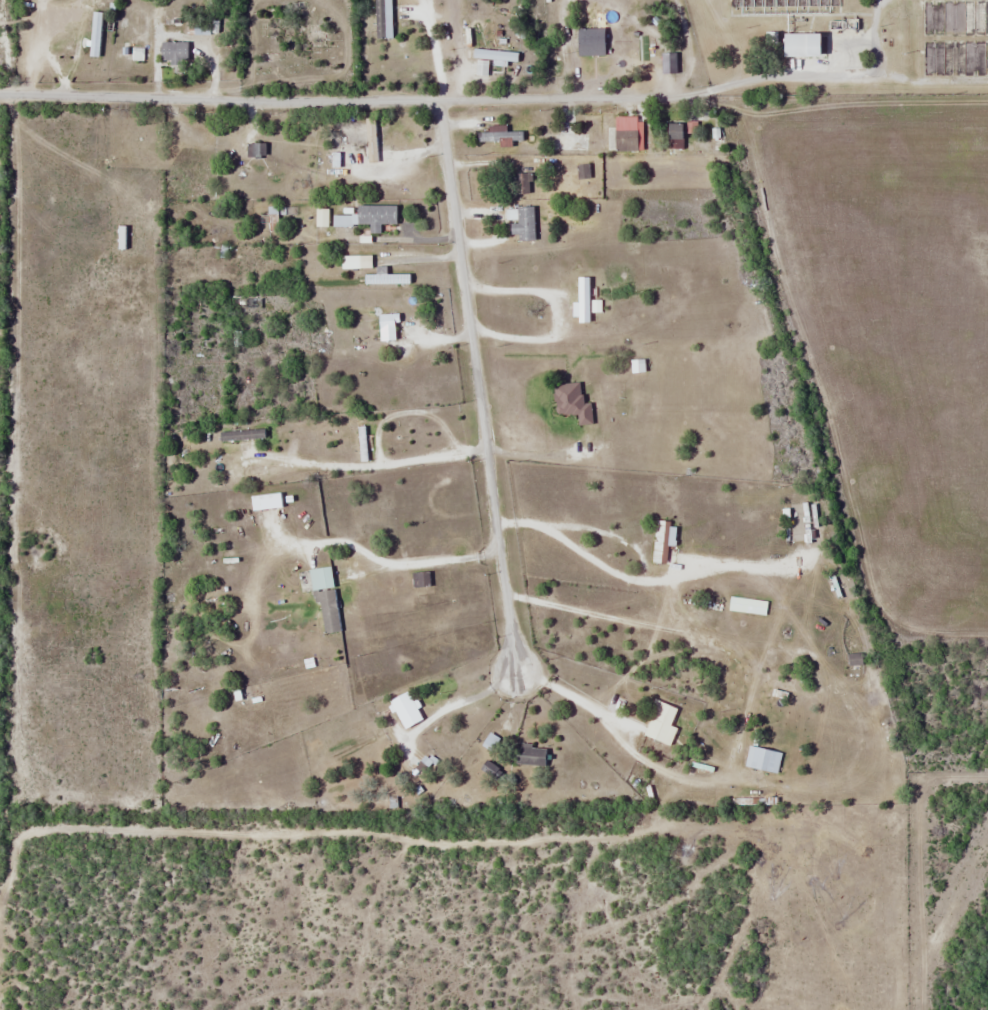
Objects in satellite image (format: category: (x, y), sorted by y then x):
building: (129, 11)
building: (382, 19)
building: (200, 26)
building: (638, 40)
building: (799, 44)
park: (297, 45)
wastewater plant: (842, 45)
building: (173, 51)
road: (354, 98)
building: (362, 129)
building: (625, 133)
building: (673, 135)
building: (499, 136)
building: (255, 150)
building: (187, 162)
building: (521, 184)
building: (271, 215)
building: (375, 216)
building: (321, 217)
building: (341, 220)
building: (521, 223)
building: (386, 277)
building: (387, 326)
road: (476, 382)
building: (571, 402)
building: (240, 434)
building: (361, 443)
road: (369, 466)
building: (660, 541)
building: (320, 578)
building: (328, 610)
road: (570, 696)
building: (404, 709)
building: (661, 724)
building: (492, 742)
building: (529, 754)
building: (762, 759)

